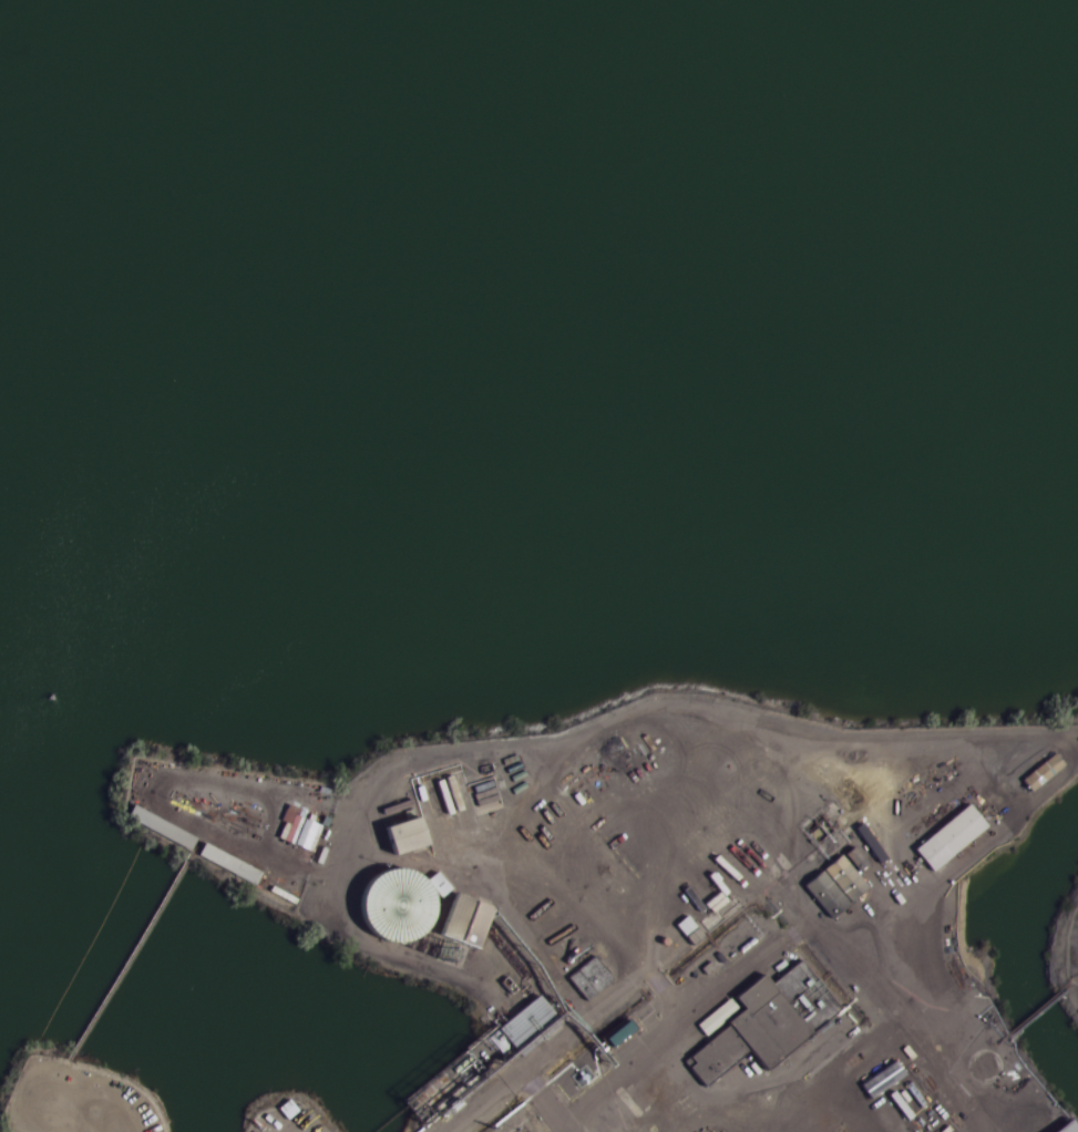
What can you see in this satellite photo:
building: (754, 817)
building: (170, 832)
building: (408, 835)
building: (952, 836)
building: (855, 856)
building: (245, 873)
building: (838, 886)
building: (389, 907)
storage tank: (389, 907)
power plant: (704, 915)
building: (469, 922)
building: (592, 978)
building: (768, 1056)
road: (569, 1112)
building: (700, 1115)
power substation: (523, 1121)
power plant: (278, 1124)
building: (1054, 1129)

